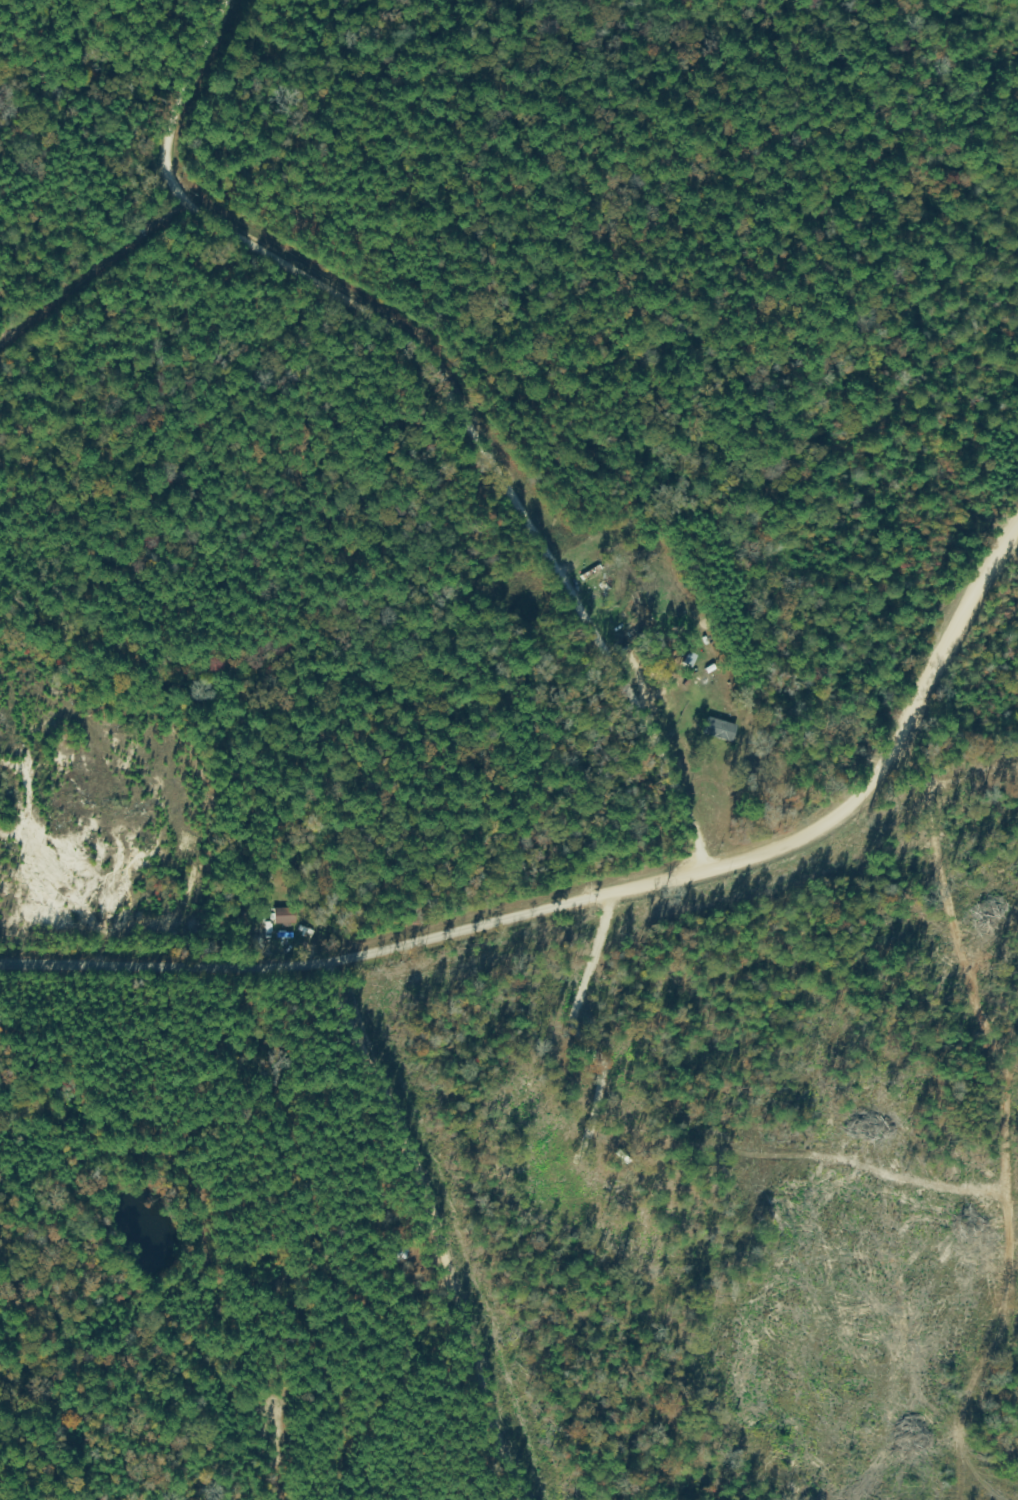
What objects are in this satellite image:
road: (27, 385)
road: (458, 436)
building: (588, 555)
building: (604, 588)
road: (578, 862)
building: (285, 918)

